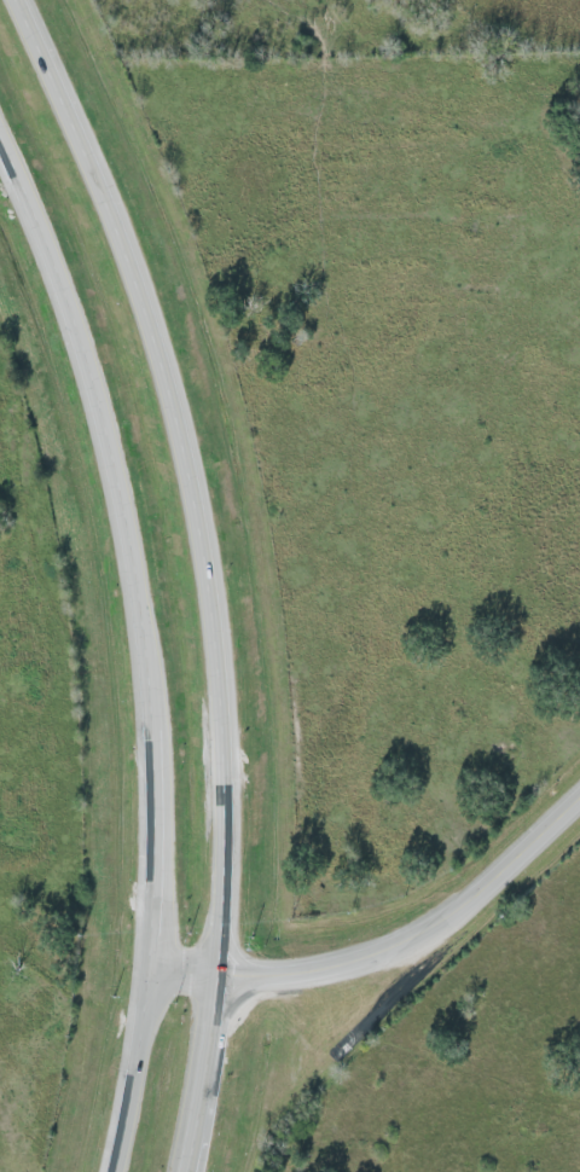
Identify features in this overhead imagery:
road: (208, 572)
road: (145, 633)
road: (416, 935)
road: (184, 975)

